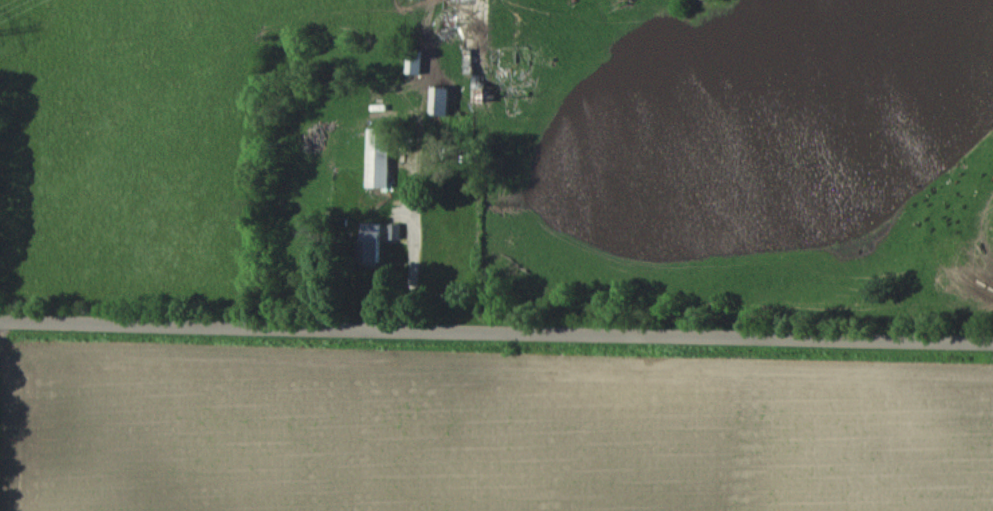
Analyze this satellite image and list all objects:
building: (414, 62)
building: (480, 88)
building: (441, 100)
building: (378, 158)
building: (372, 245)
road: (496, 330)
crop: (487, 429)

